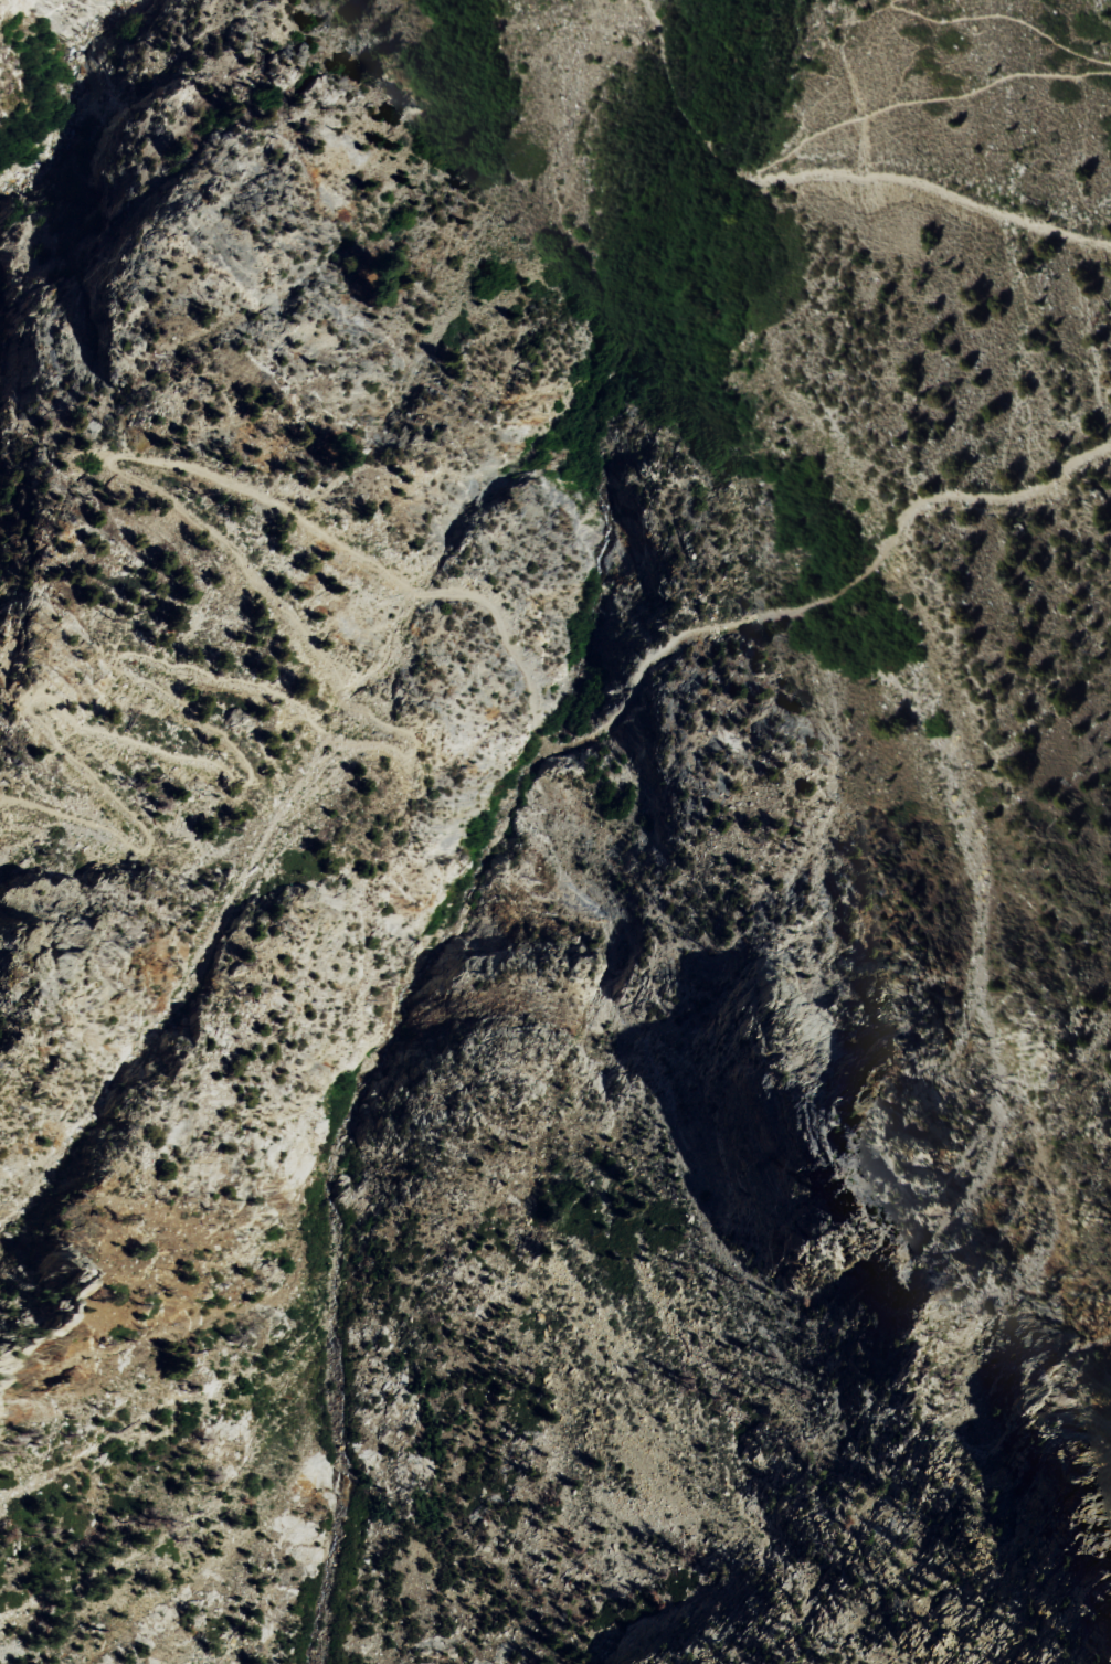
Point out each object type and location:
road: (997, 15)
road: (668, 110)
road: (754, 172)
road: (245, 565)

